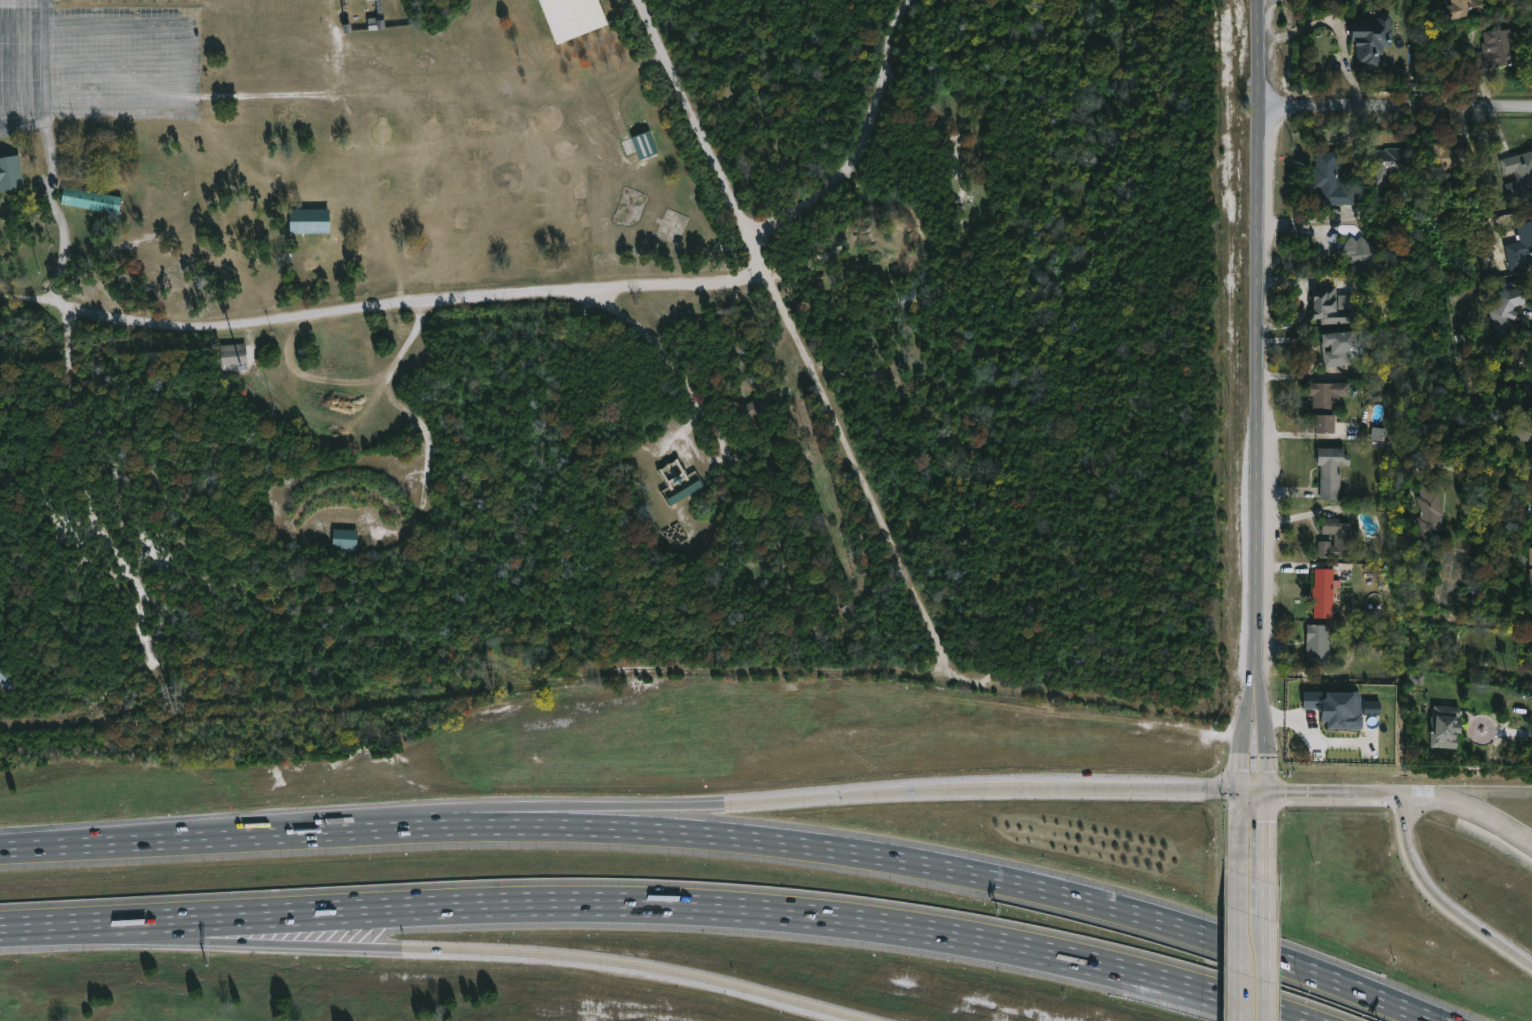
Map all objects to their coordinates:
building: (1464, 8)
building: (375, 17)
building: (570, 17)
road: (1335, 27)
building: (1371, 40)
building: (1495, 51)
parking lot: (98, 62)
road: (115, 62)
road: (183, 62)
road: (47, 82)
building: (723, 95)
road: (1394, 107)
building: (1339, 133)
road: (856, 139)
building: (644, 145)
building: (1452, 160)
building: (1389, 166)
building: (12, 173)
building: (1519, 174)
building: (1332, 181)
building: (93, 199)
road: (58, 210)
building: (311, 221)
building: (1521, 248)
building: (1351, 252)
road: (774, 291)
building: (1333, 307)
road: (381, 308)
building: (1506, 310)
road: (1256, 345)
building: (1339, 347)
building: (232, 354)
building: (1326, 403)
building: (754, 408)
road: (429, 428)
building: (1524, 428)
building: (1331, 470)
building: (683, 488)
road: (1499, 501)
building: (1430, 508)
building: (1335, 538)
building: (344, 542)
building: (1531, 563)
building: (1323, 593)
building: (849, 612)
building: (1317, 644)
building: (1340, 705)
building: (1445, 726)
road: (1516, 732)
road: (1249, 740)
road: (1262, 743)
road: (924, 790)
traffic signals: (1240, 792)
road: (1253, 792)
road: (1483, 793)
traffic signals: (1267, 795)
road: (1310, 795)
road: (1379, 796)
road: (1420, 797)
road: (1486, 814)
road: (322, 820)
road: (1240, 832)
road: (1266, 838)
road: (748, 839)
road: (18, 848)
road: (1265, 897)
road: (1441, 898)
road: (597, 903)
road: (158, 938)
road: (1239, 948)
road: (596, 960)
road: (1265, 967)
road: (1241, 1004)

